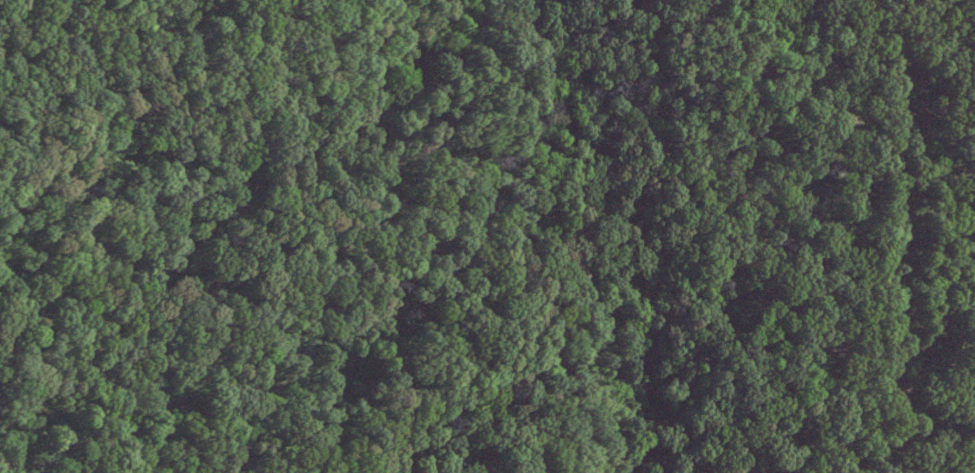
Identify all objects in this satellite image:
road: (723, 241)

